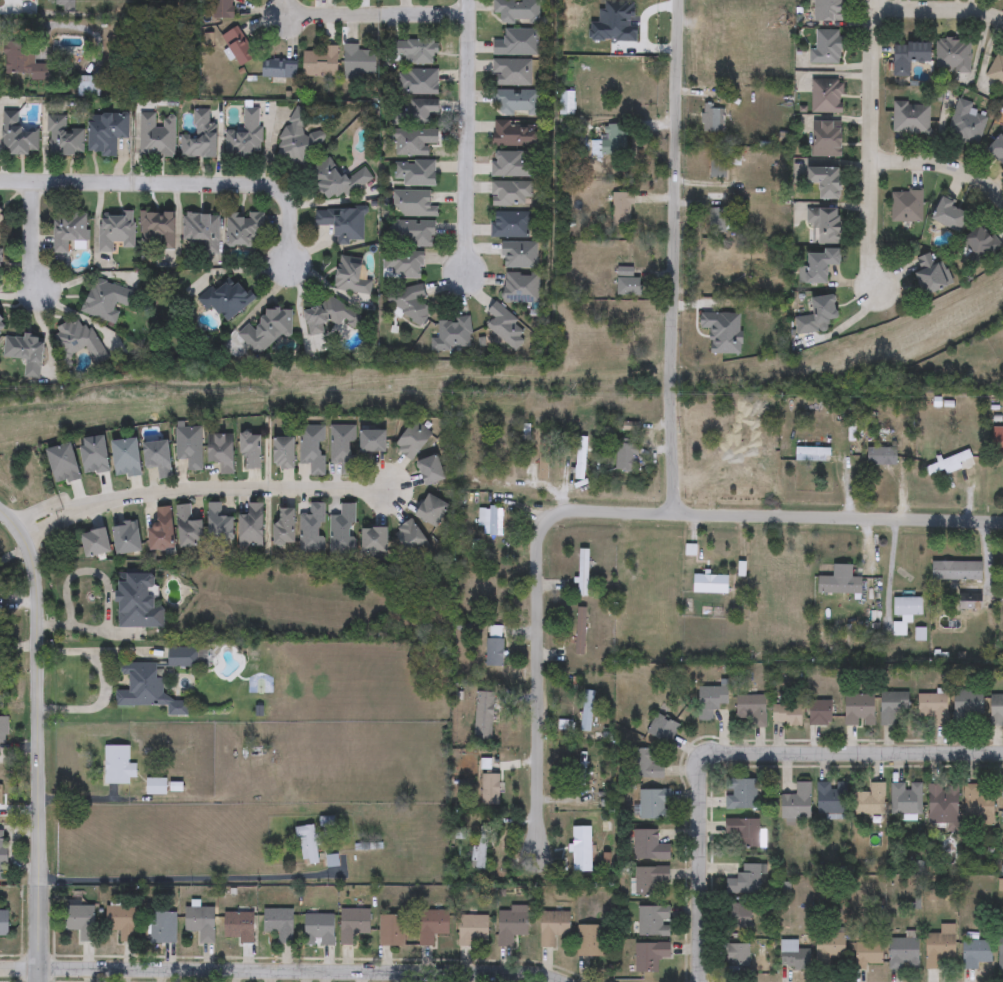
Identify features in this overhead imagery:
building: (66, 4)
road: (292, 4)
road: (3, 5)
building: (223, 8)
building: (827, 10)
road: (940, 10)
building: (517, 11)
road: (380, 17)
building: (628, 25)
building: (517, 42)
building: (825, 46)
building: (236, 47)
building: (414, 51)
building: (908, 55)
building: (951, 55)
building: (359, 59)
building: (320, 61)
building: (23, 62)
building: (280, 69)
building: (996, 69)
building: (511, 72)
building: (418, 81)
building: (89, 85)
building: (825, 95)
building: (516, 102)
building: (566, 103)
building: (413, 111)
building: (909, 118)
building: (713, 119)
building: (966, 123)
building: (107, 132)
building: (515, 134)
building: (156, 135)
building: (200, 135)
building: (18, 136)
building: (245, 136)
building: (64, 137)
building: (297, 139)
road: (468, 139)
building: (615, 139)
building: (826, 139)
building: (414, 141)
road: (872, 145)
building: (997, 148)
building: (512, 164)
building: (717, 166)
road: (942, 167)
building: (415, 172)
building: (338, 180)
building: (825, 180)
road: (177, 183)
building: (511, 193)
building: (413, 203)
building: (905, 205)
building: (623, 211)
building: (719, 220)
building: (342, 223)
building: (823, 223)
building: (0, 224)
building: (511, 224)
building: (158, 227)
building: (68, 229)
building: (202, 229)
building: (245, 229)
building: (116, 230)
building: (413, 233)
road: (31, 235)
building: (981, 242)
building: (520, 253)
road: (677, 257)
building: (402, 264)
building: (820, 264)
building: (929, 273)
building: (352, 276)
building: (629, 286)
building: (521, 287)
building: (226, 297)
building: (106, 300)
building: (408, 301)
building: (816, 315)
building: (333, 317)
building: (2, 323)
building: (713, 327)
building: (506, 328)
building: (272, 329)
building: (453, 333)
building: (78, 339)
building: (26, 353)
building: (374, 440)
building: (413, 440)
building: (189, 446)
building: (343, 447)
building: (312, 448)
building: (251, 451)
building: (505, 451)
building: (221, 452)
building: (285, 453)
building: (812, 454)
building: (93, 455)
building: (739, 455)
building: (880, 456)
building: (626, 457)
building: (126, 458)
building: (158, 458)
building: (580, 458)
building: (62, 464)
building: (542, 464)
building: (947, 464)
building: (431, 470)
road: (237, 491)
road: (45, 507)
building: (432, 510)
building: (492, 520)
road: (775, 520)
road: (50, 524)
building: (219, 524)
building: (251, 526)
building: (285, 526)
building: (188, 527)
building: (312, 529)
building: (343, 529)
building: (161, 530)
building: (412, 538)
building: (126, 539)
building: (374, 539)
building: (94, 543)
building: (956, 571)
building: (582, 573)
building: (708, 575)
building: (838, 585)
building: (139, 600)
building: (904, 613)
road: (48, 624)
road: (94, 631)
building: (494, 646)
building: (184, 657)
road: (105, 681)
road: (537, 688)
building: (148, 689)
building: (710, 700)
building: (966, 705)
building: (892, 706)
building: (750, 709)
building: (931, 709)
building: (858, 710)
building: (995, 710)
building: (819, 713)
building: (786, 715)
building: (483, 716)
building: (575, 721)
building: (661, 728)
building: (4, 730)
road: (36, 740)
road: (852, 754)
building: (646, 764)
building: (118, 765)
building: (581, 768)
building: (156, 786)
building: (490, 790)
building: (0, 792)
building: (739, 794)
building: (830, 798)
building: (905, 799)
building: (869, 800)
building: (795, 802)
building: (942, 803)
building: (1002, 803)
building: (654, 804)
building: (976, 805)
building: (742, 832)
building: (308, 844)
building: (650, 846)
building: (481, 847)
building: (581, 849)
building: (3, 855)
road: (701, 872)
road: (185, 878)
building: (649, 879)
building: (746, 880)
building: (739, 916)
building: (80, 920)
building: (121, 921)
building: (653, 921)
building: (200, 923)
building: (279, 923)
building: (4, 924)
building: (511, 924)
building: (353, 925)
building: (432, 925)
building: (163, 927)
building: (238, 927)
building: (552, 927)
building: (318, 928)
building: (472, 928)
building: (391, 930)
building: (588, 940)
building: (828, 949)
building: (938, 949)
building: (1000, 951)
building: (903, 953)
building: (867, 954)
building: (976, 954)
building: (735, 955)
building: (793, 955)
building: (649, 956)
road: (286, 970)

